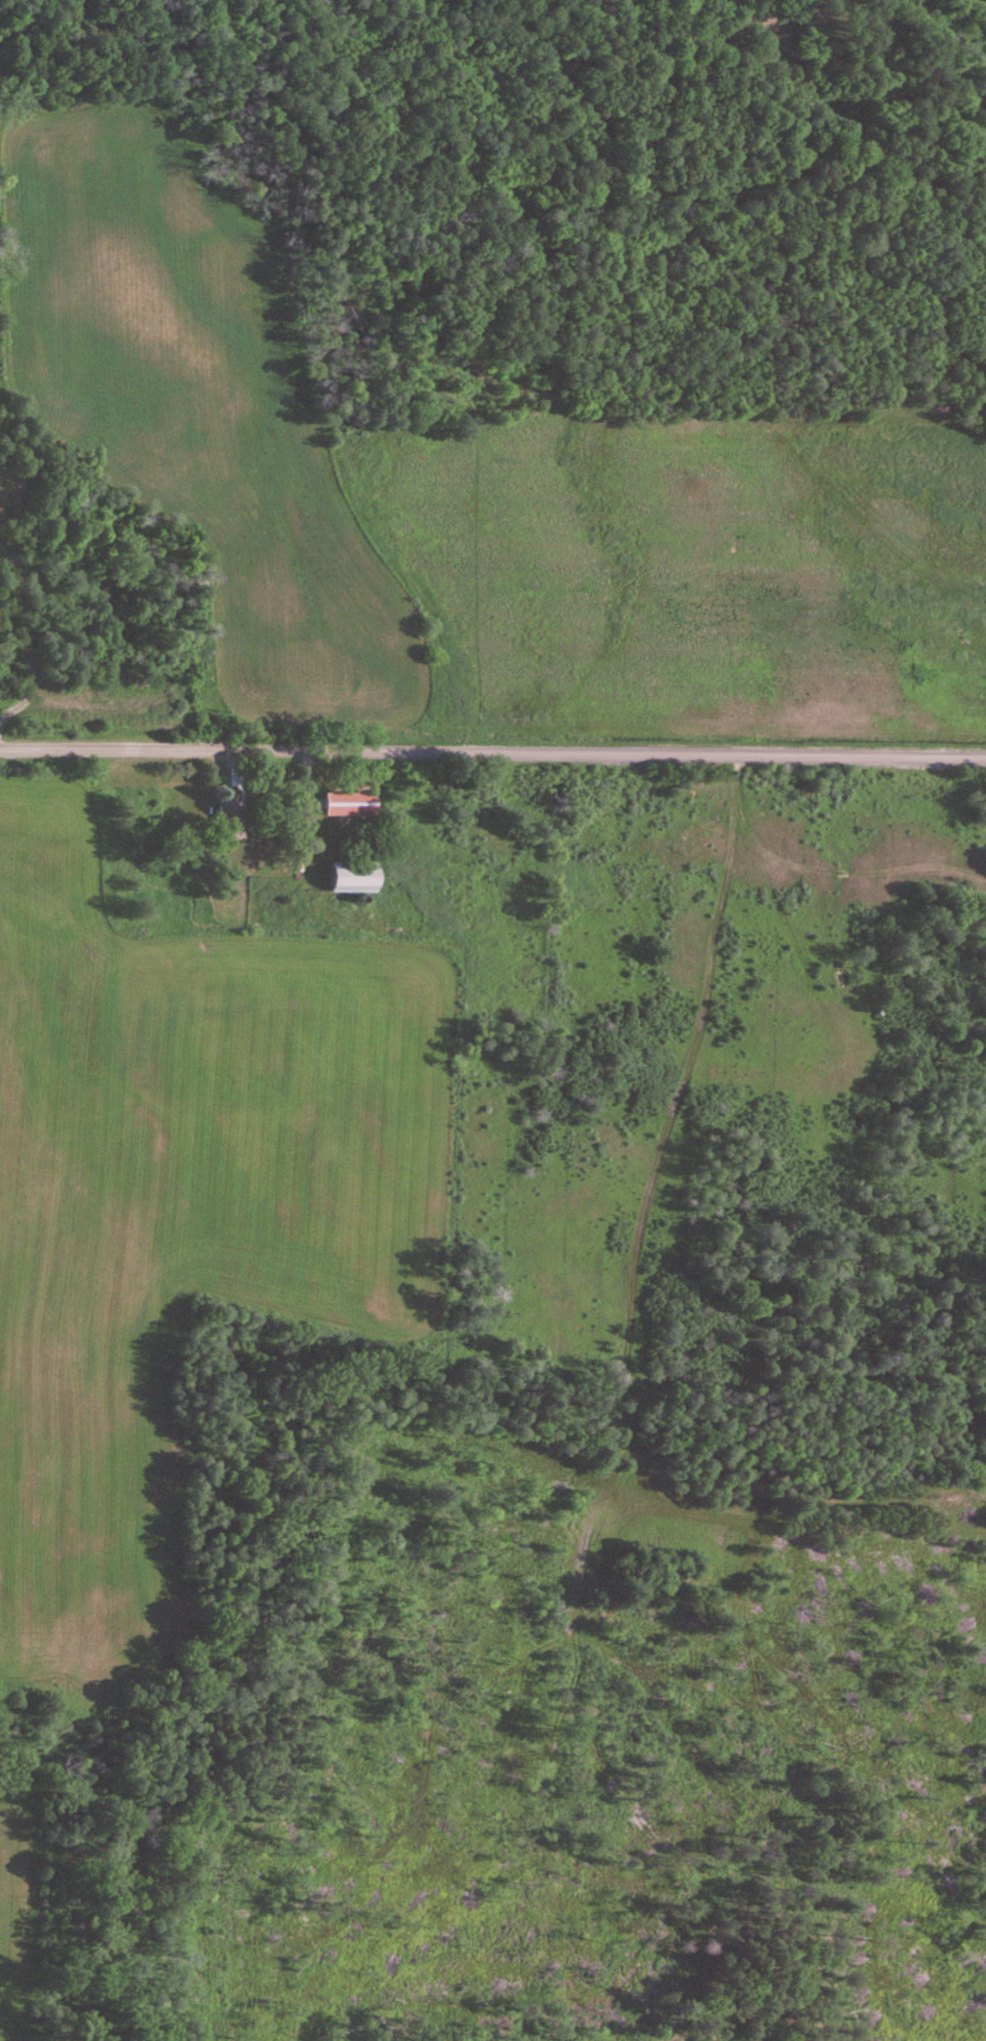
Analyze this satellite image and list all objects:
road: (493, 743)
building: (349, 804)
building: (229, 821)
building: (352, 878)

